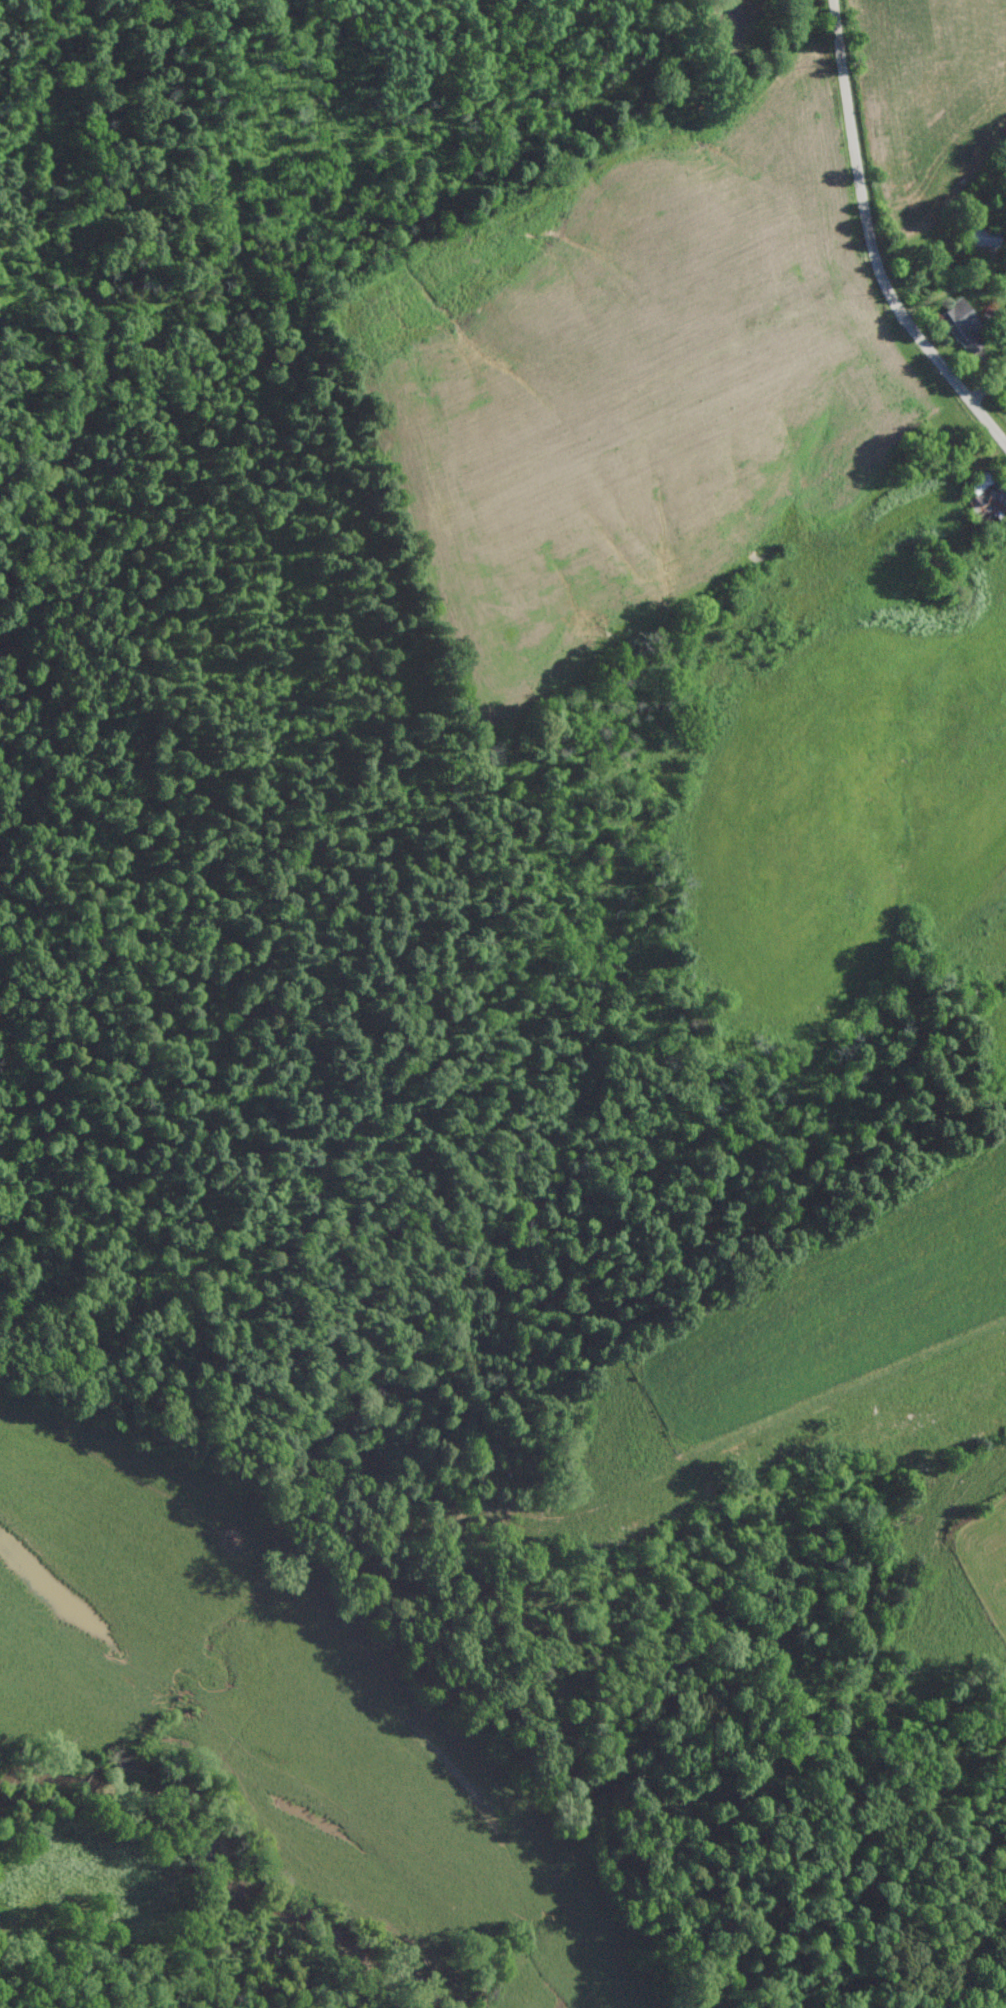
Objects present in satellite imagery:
road: (899, 222)
building: (983, 238)
building: (961, 326)
building: (988, 496)
building: (930, 555)

